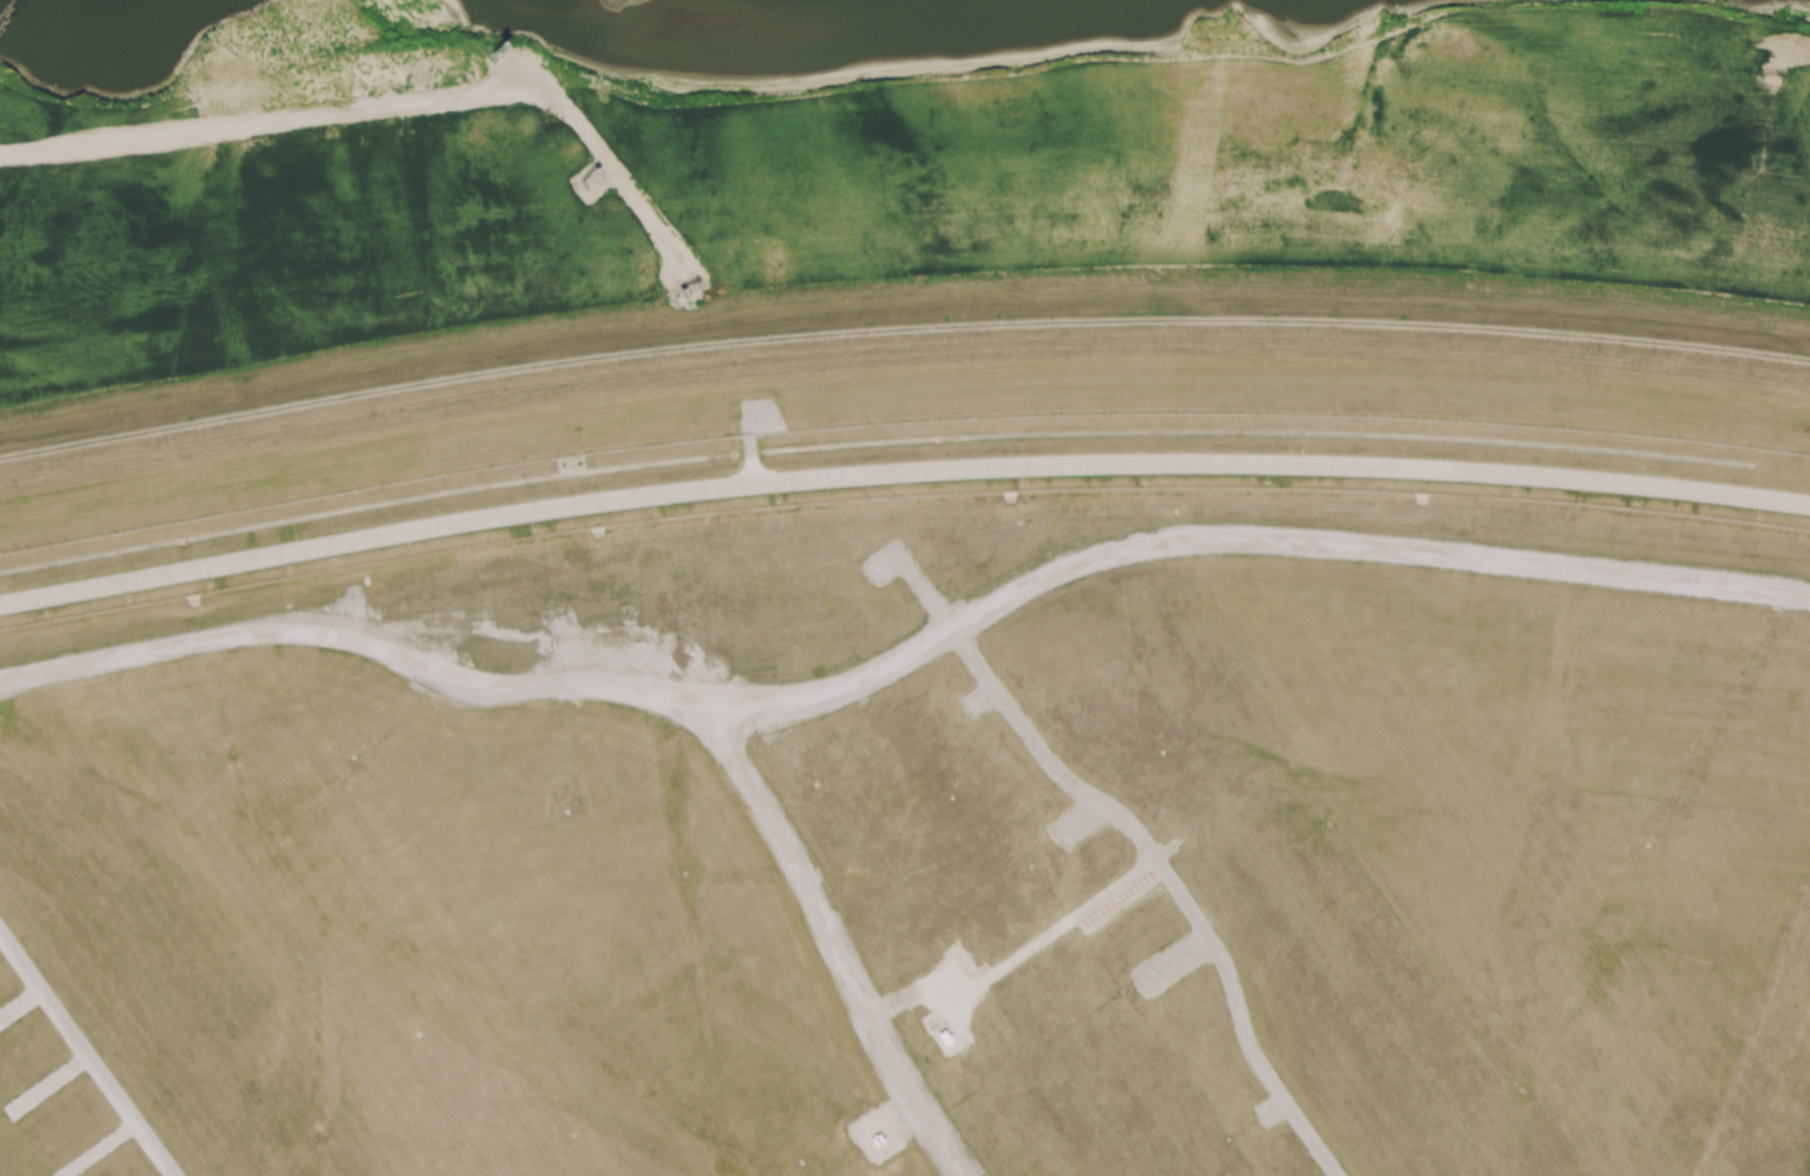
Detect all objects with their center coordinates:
road: (527, 92)
road: (399, 107)
road: (749, 453)
road: (900, 472)
road: (911, 665)
airport: (927, 811)
road: (1174, 879)
road: (832, 942)
road: (1018, 954)
road: (85, 1057)

